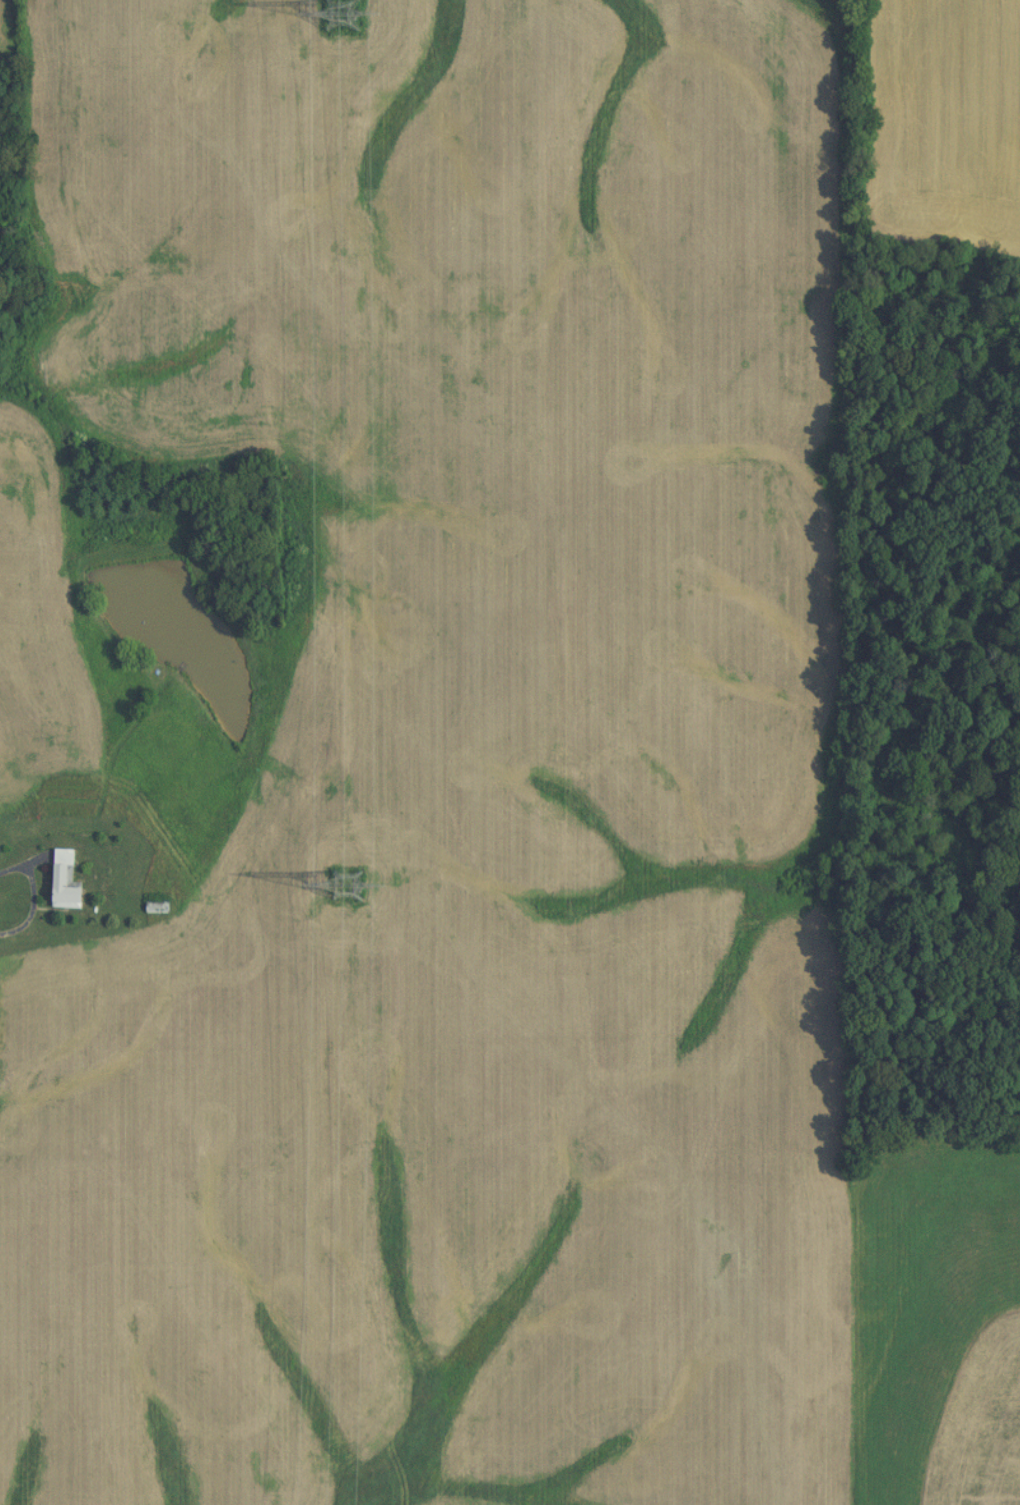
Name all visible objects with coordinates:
power tower: (332, 11)
building: (63, 879)
power tower: (345, 880)
road: (26, 912)

